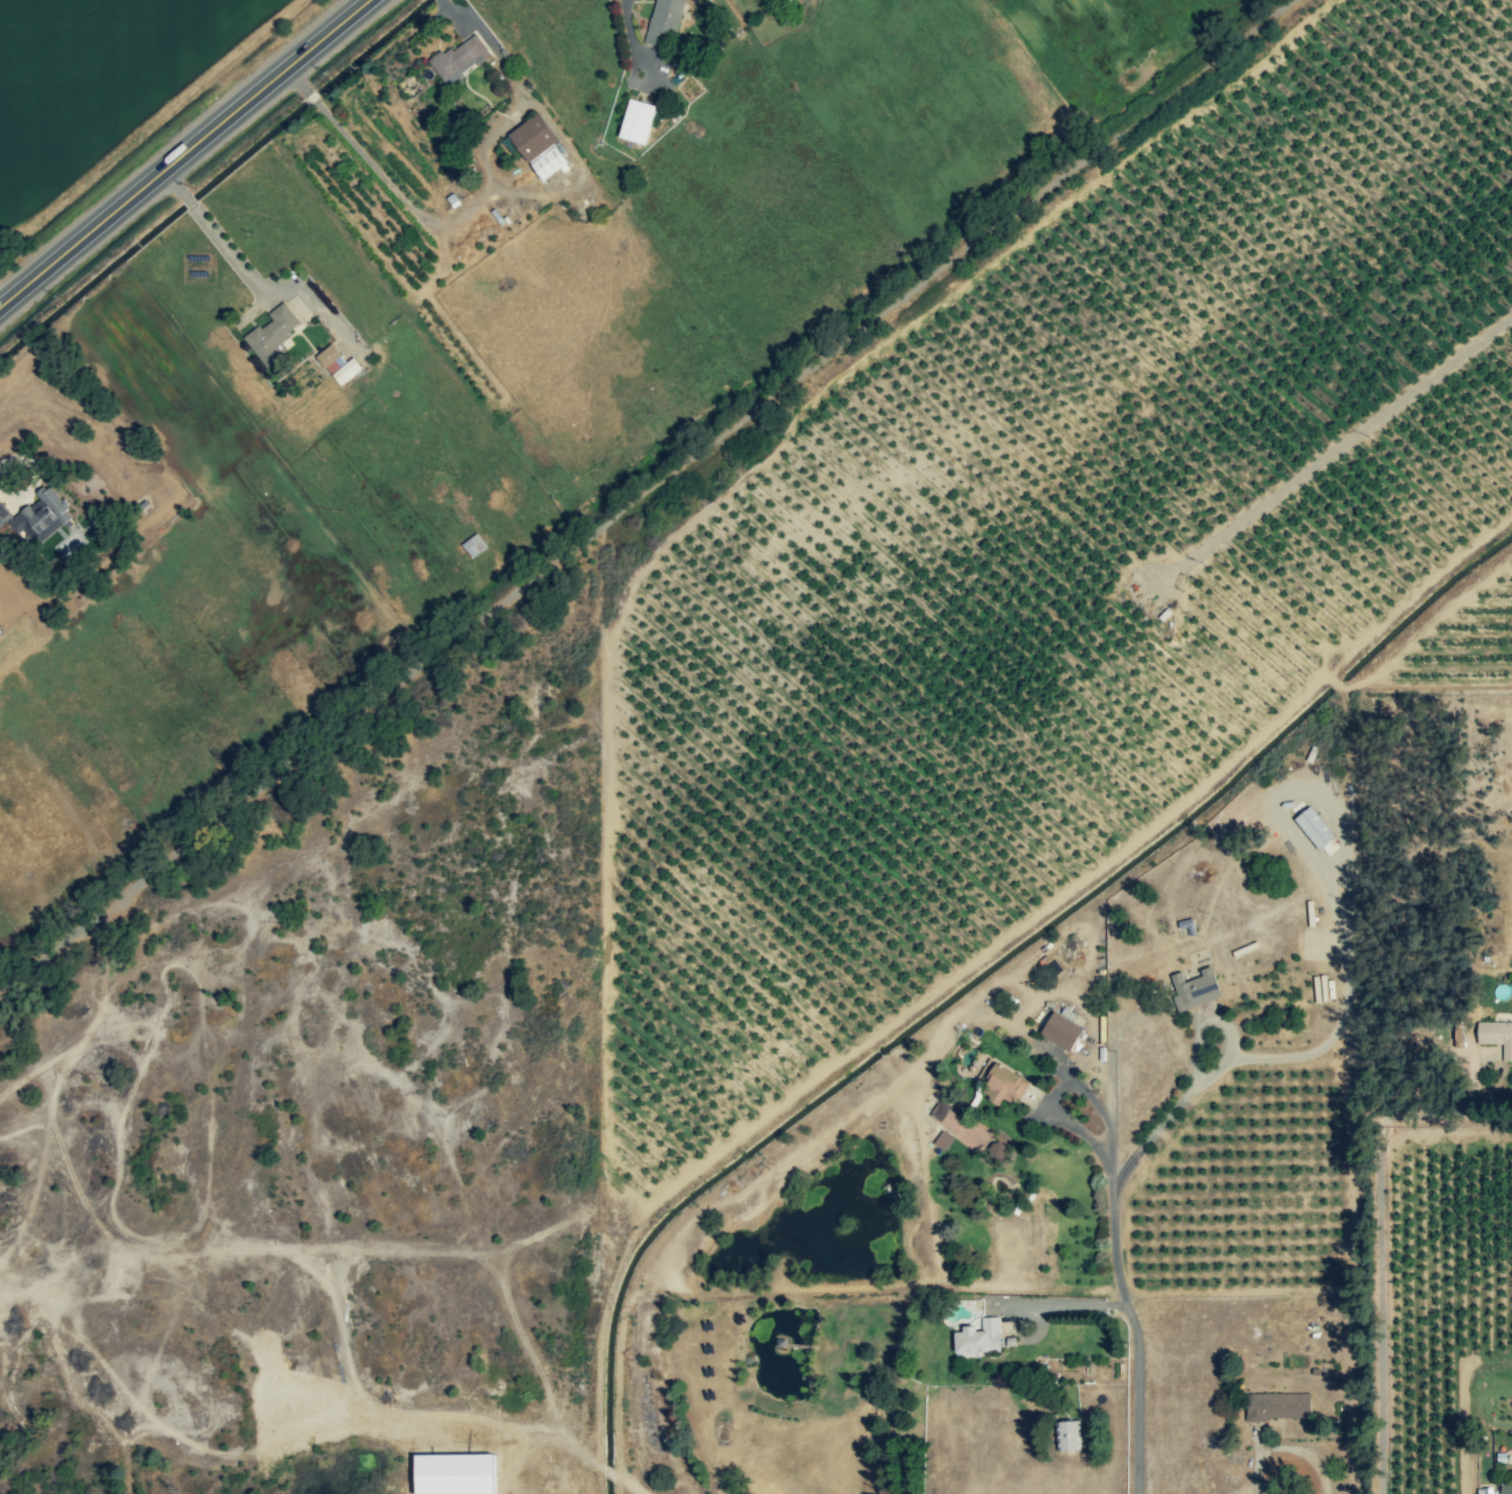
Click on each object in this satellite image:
building: (779, 1)
road: (472, 20)
building: (661, 21)
road: (628, 24)
building: (459, 60)
road: (298, 81)
road: (310, 97)
building: (634, 123)
building: (530, 139)
road: (187, 155)
building: (547, 165)
road: (459, 216)
road: (215, 234)
building: (270, 334)
building: (328, 359)
building: (344, 373)
building: (3, 515)
building: (41, 516)
building: (1312, 828)
building: (1192, 990)
building: (1059, 1032)
building: (1495, 1037)
road: (1201, 1085)
building: (1003, 1086)
road: (1049, 1102)
road: (1114, 1110)
building: (947, 1119)
road: (1382, 1272)
road: (1076, 1302)
building: (977, 1339)
road: (1136, 1343)
building: (1276, 1407)
building: (1066, 1437)
road: (1290, 1452)
building: (1507, 1488)
building: (1486, 1492)

